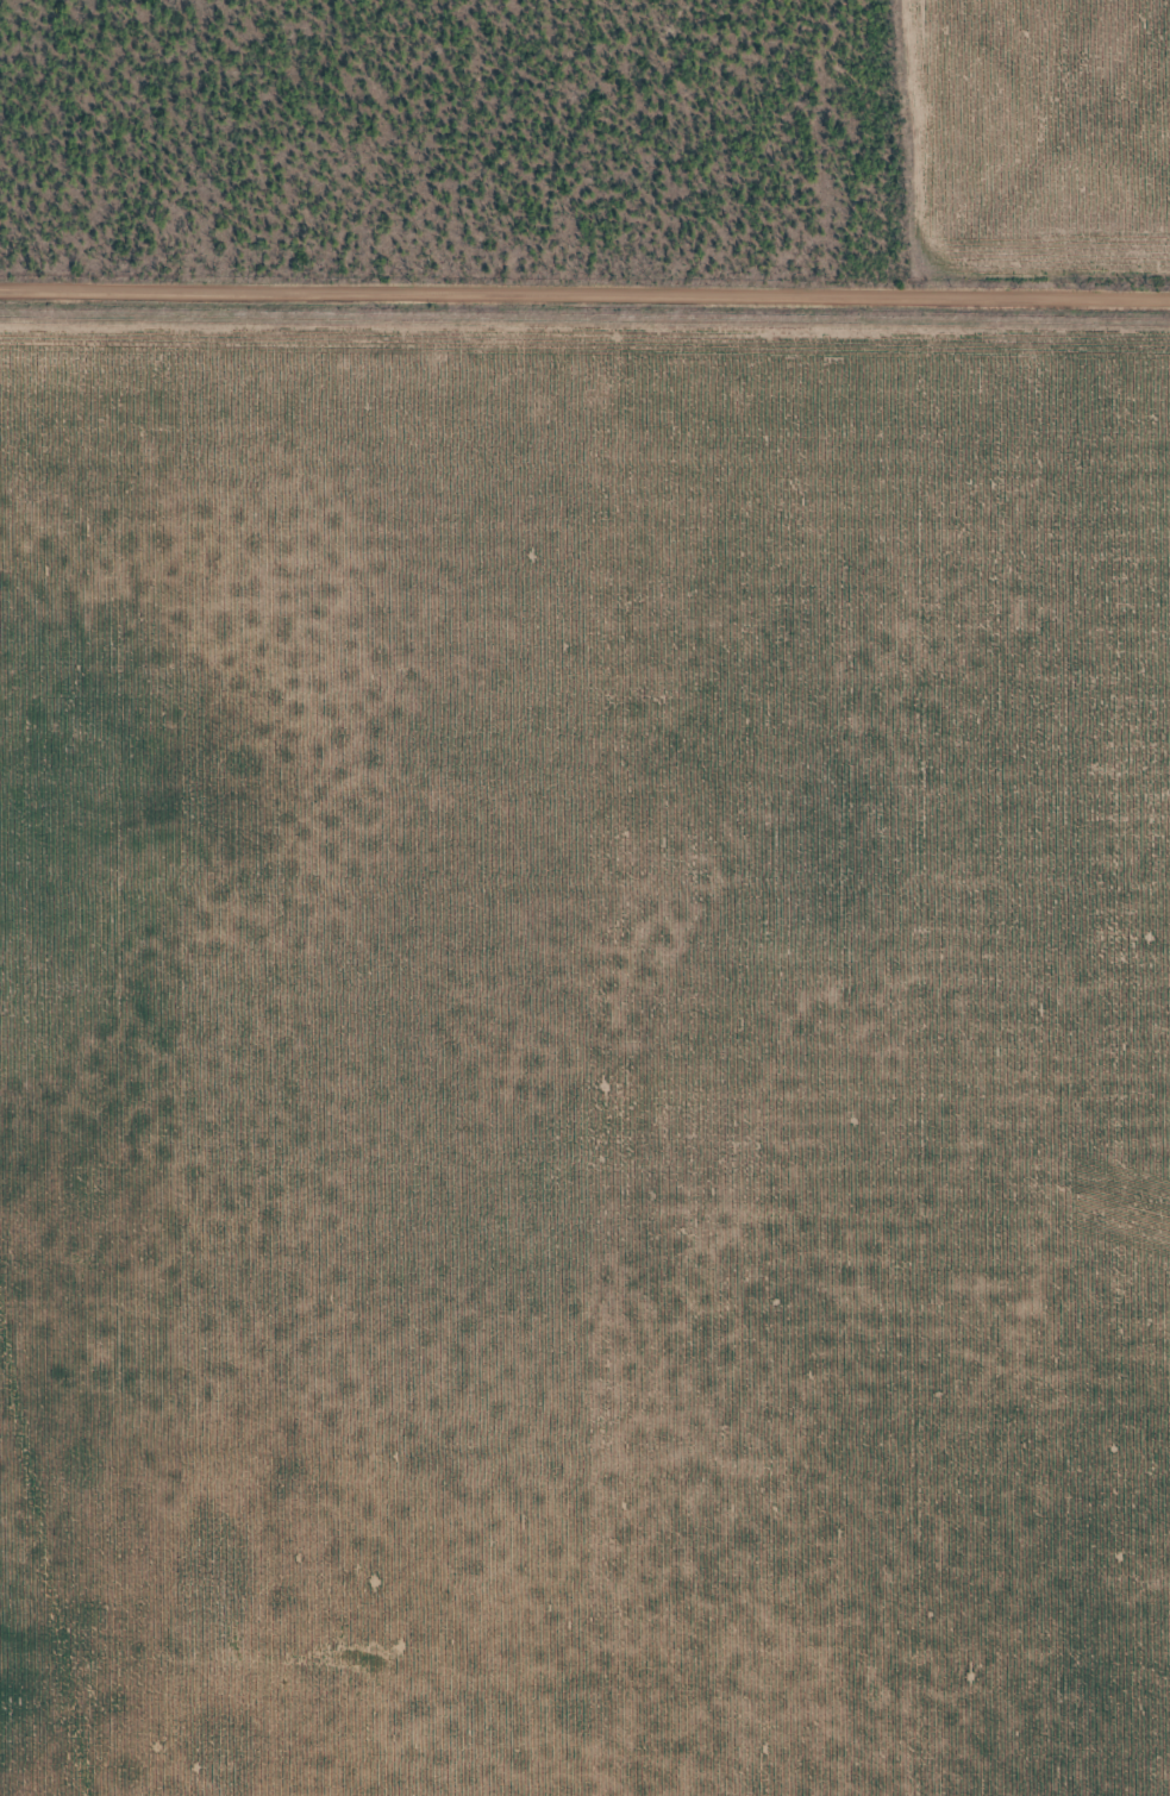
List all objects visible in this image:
road: (584, 317)

